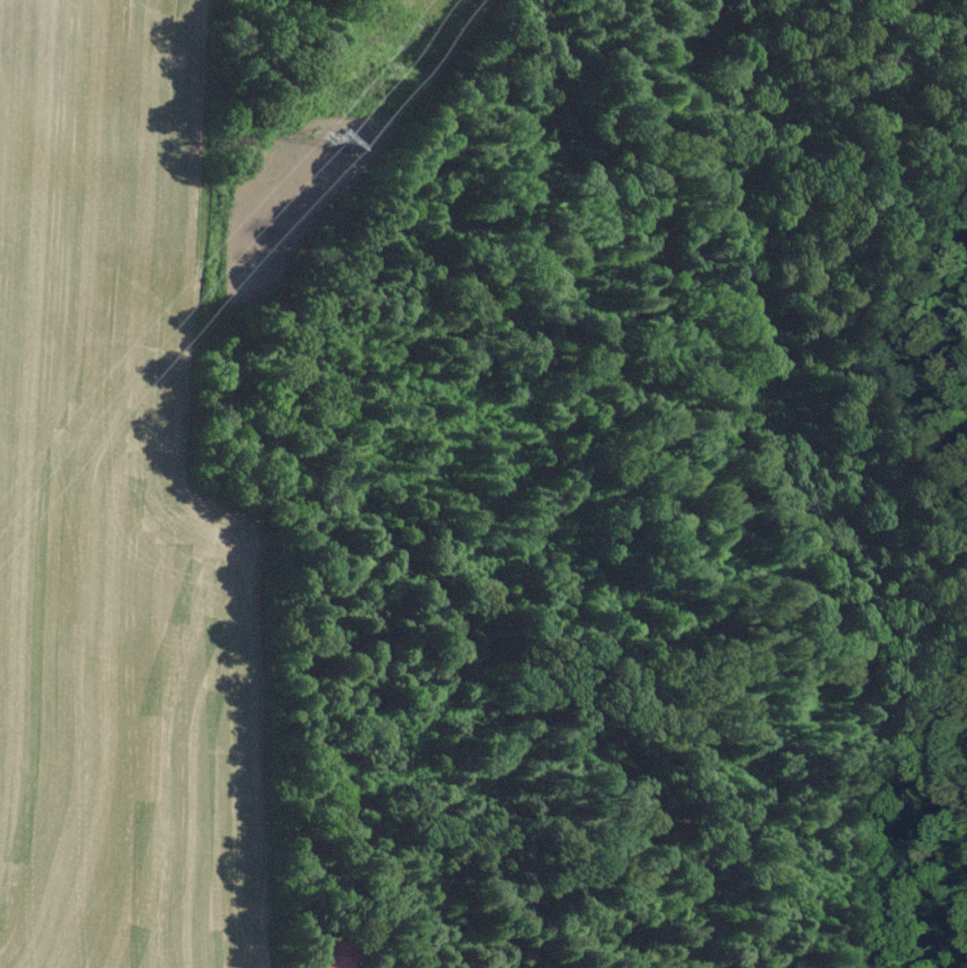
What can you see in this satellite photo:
power tower: (322, 137)
building: (339, 954)

